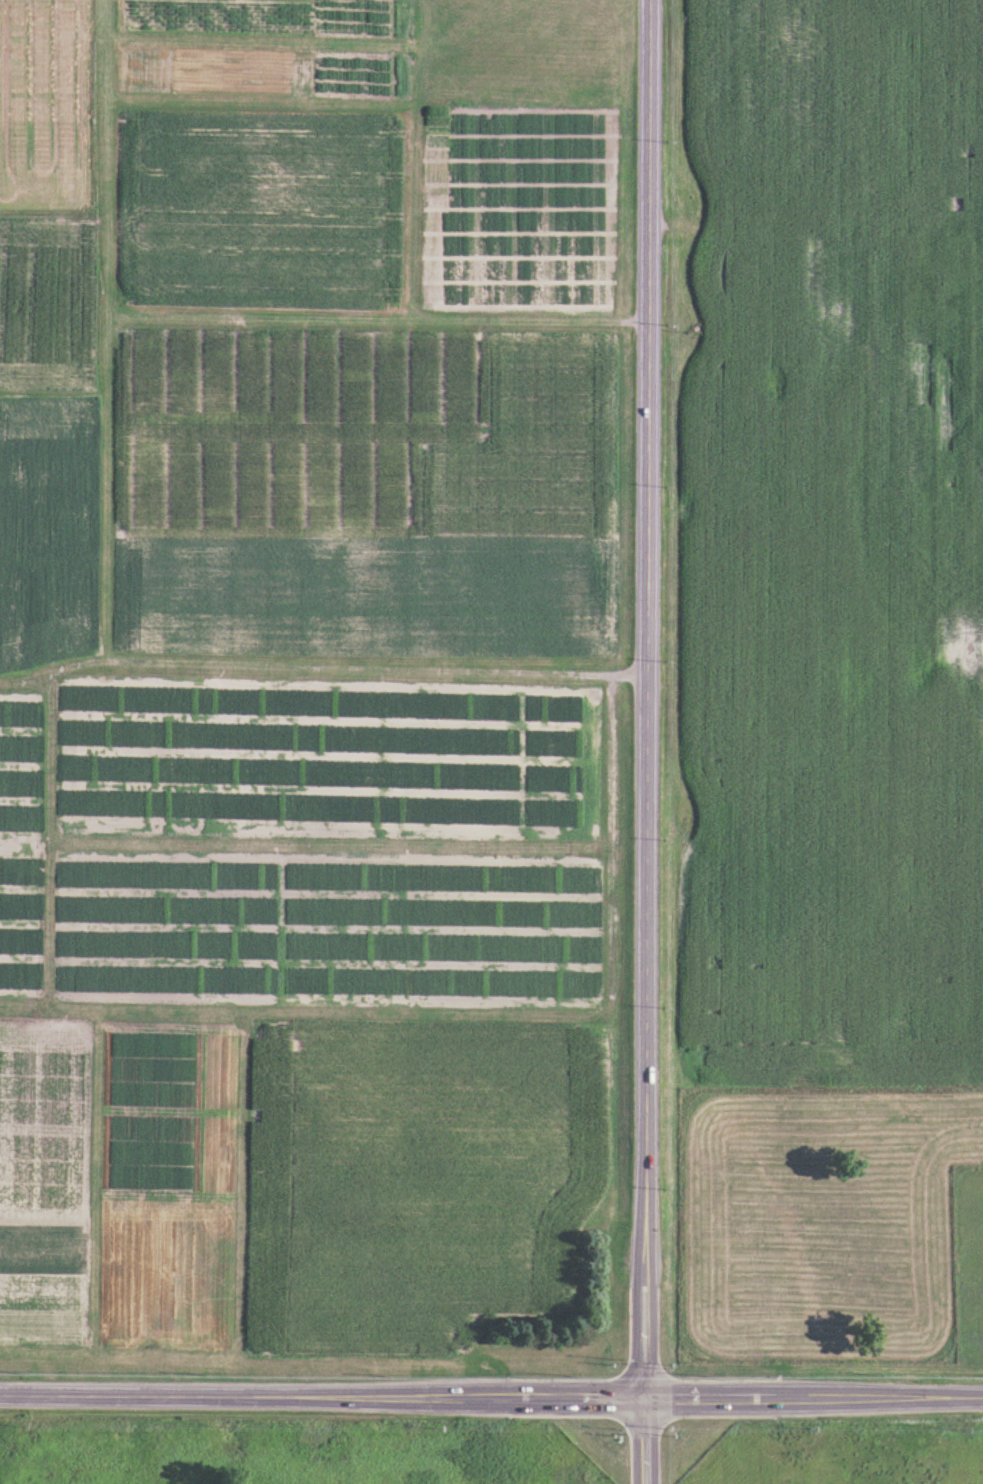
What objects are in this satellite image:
crop: (217, 15)
crop: (351, 16)
crop: (207, 71)
crop: (352, 73)
crop: (45, 102)
crop: (518, 205)
crop: (259, 208)
crop: (48, 300)
crop: (290, 422)
crop: (536, 440)
crop: (46, 528)
crop: (830, 544)
crop: (364, 590)
road: (646, 742)
crop: (319, 753)
crop: (20, 763)
crop: (20, 921)
crop: (330, 930)
crop: (149, 1109)
crop: (43, 1118)
crop: (418, 1170)
crop: (183, 1232)
crop: (42, 1247)
crop: (41, 1306)
road: (491, 1397)
traffic signals: (644, 1399)

